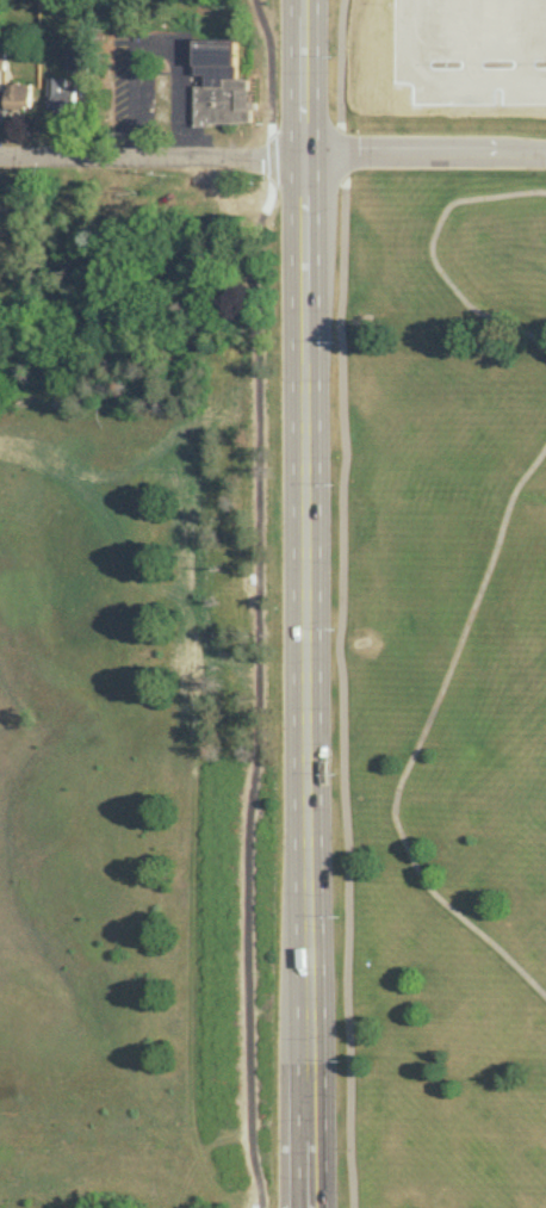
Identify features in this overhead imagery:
crop: (511, 47)
building: (221, 83)
building: (18, 95)
building: (60, 95)
road: (424, 155)
road: (151, 160)
road: (433, 258)
road: (258, 602)
road: (305, 603)
road: (341, 603)
road: (421, 742)

